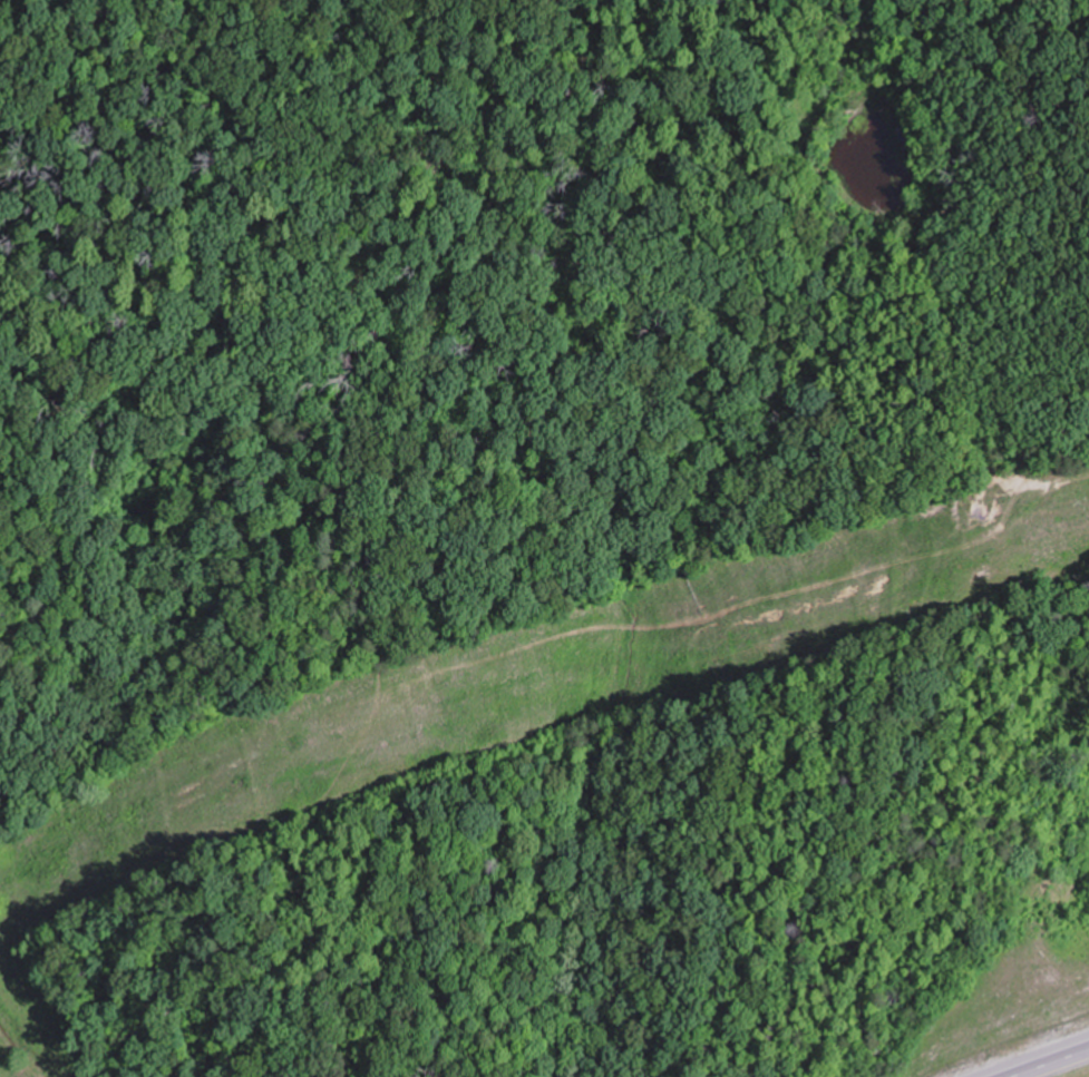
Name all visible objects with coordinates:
road: (1048, 1061)

